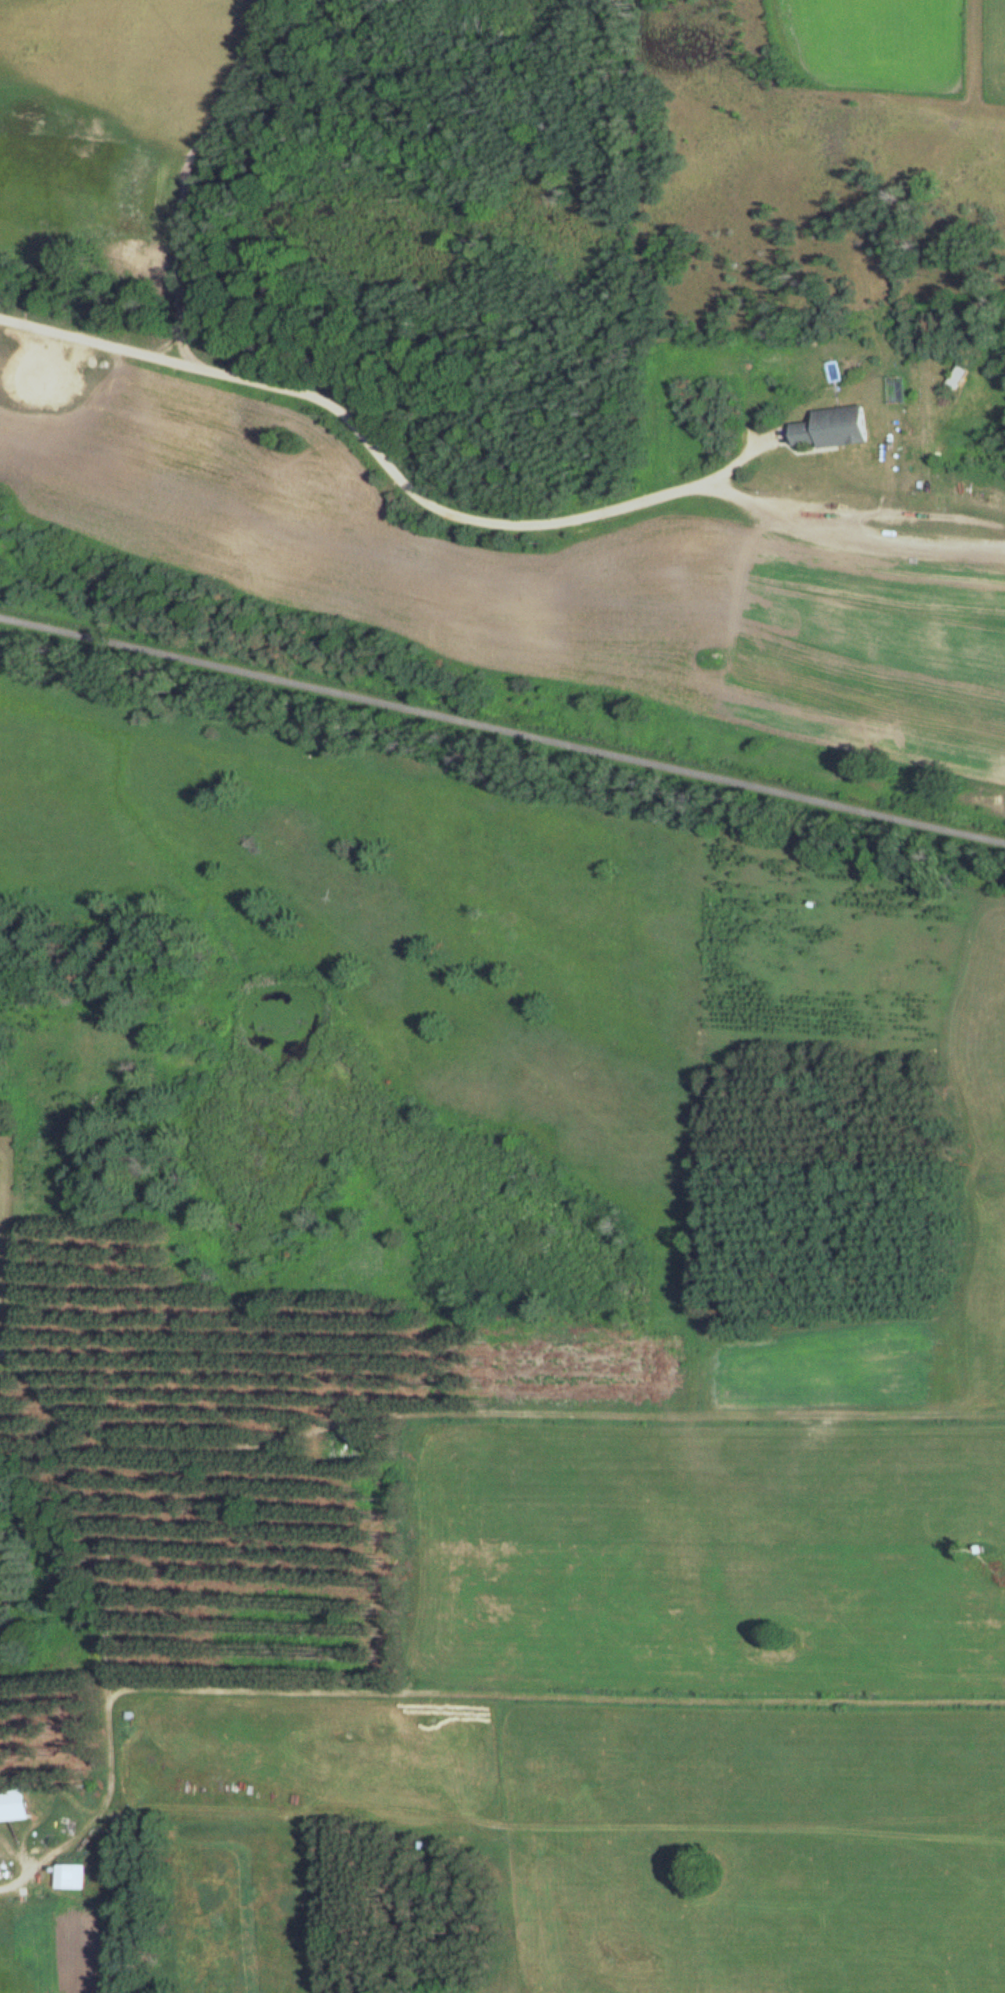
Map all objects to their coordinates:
building: (957, 377)
building: (834, 425)
road: (359, 428)
road: (739, 457)
road: (849, 524)
road: (1001, 544)
road: (502, 730)
road: (1, 1228)
park: (7, 1228)
building: (342, 1445)
building: (15, 1804)
building: (70, 1876)

